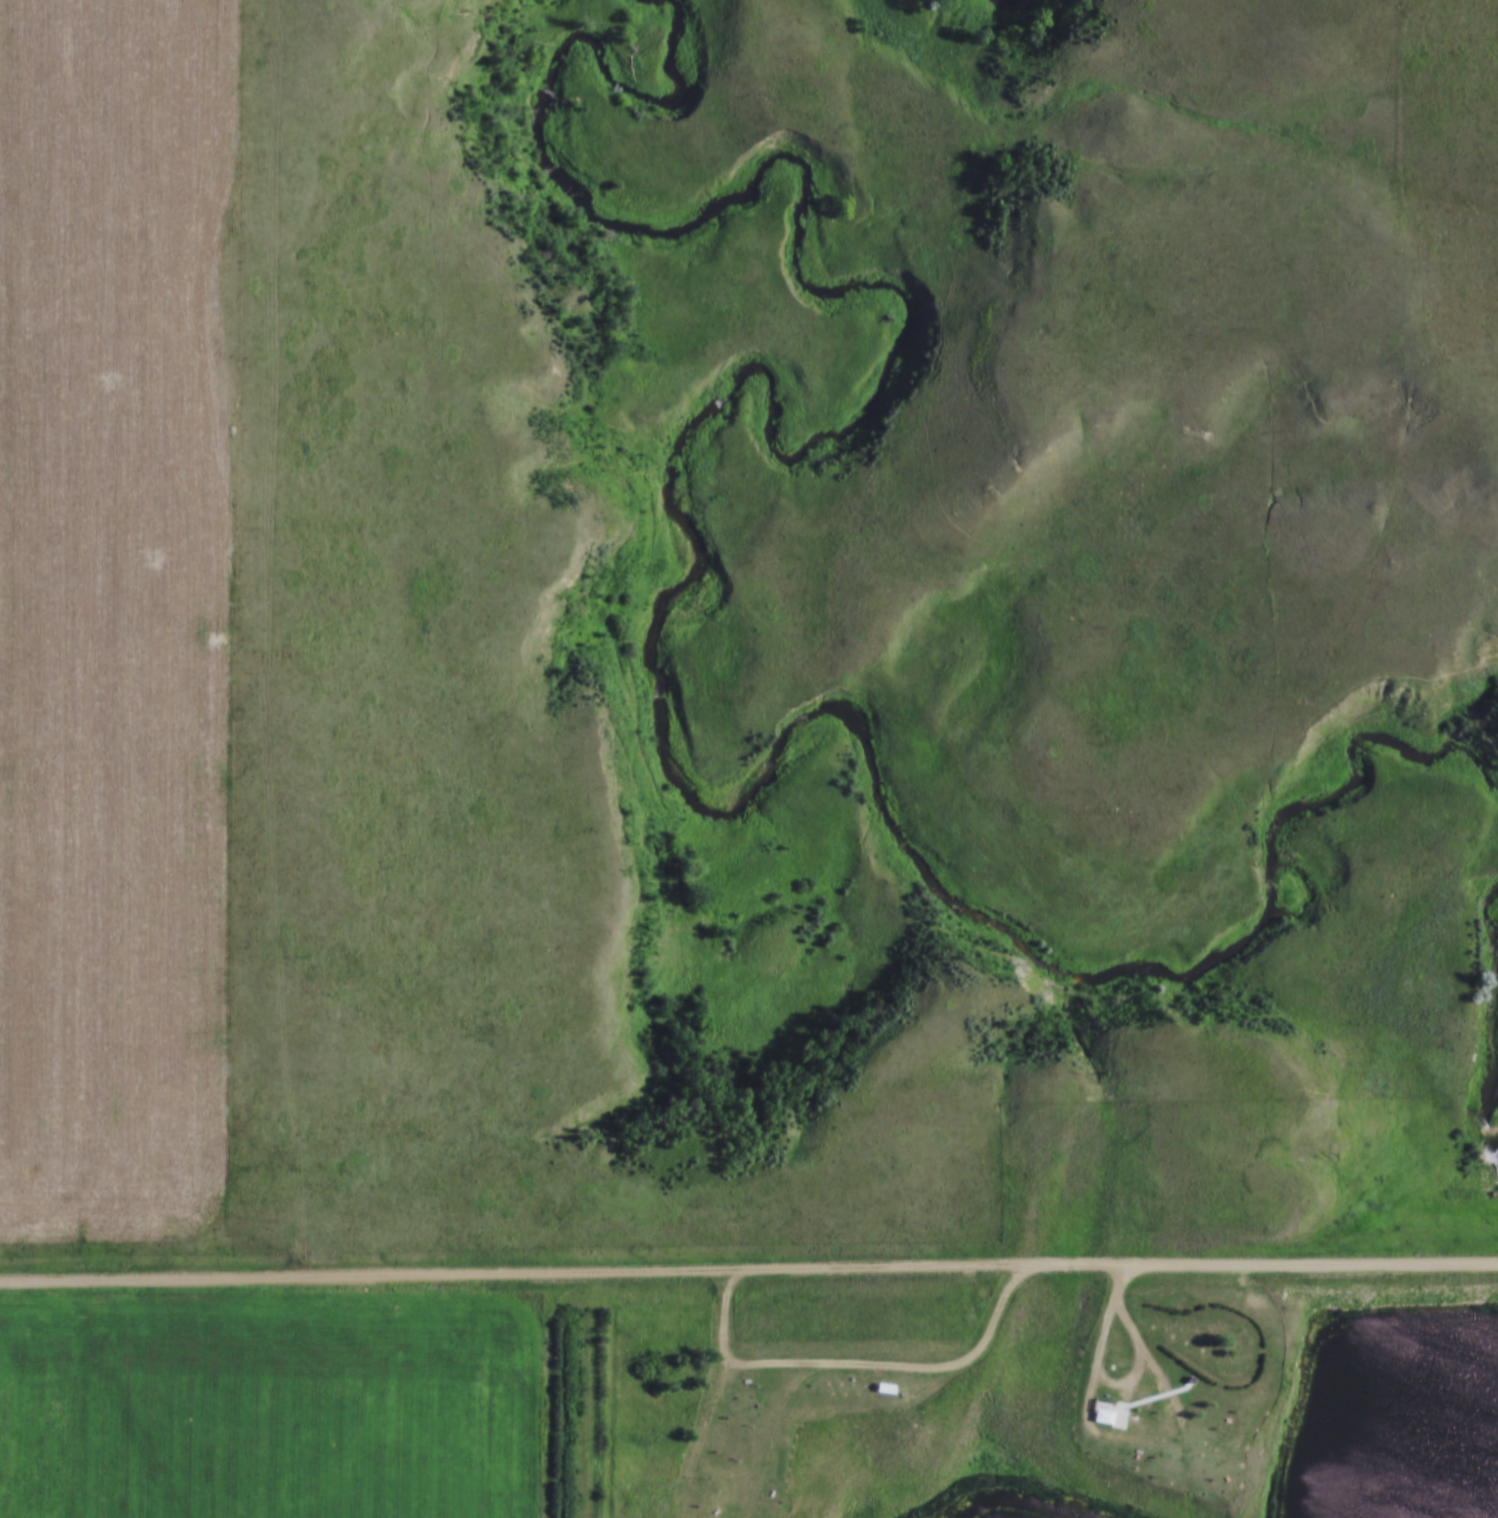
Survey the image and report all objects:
road: (748, 1268)
dam: (1396, 1303)
road: (854, 1372)
building: (880, 1385)
park: (1018, 1403)
building: (1102, 1415)

